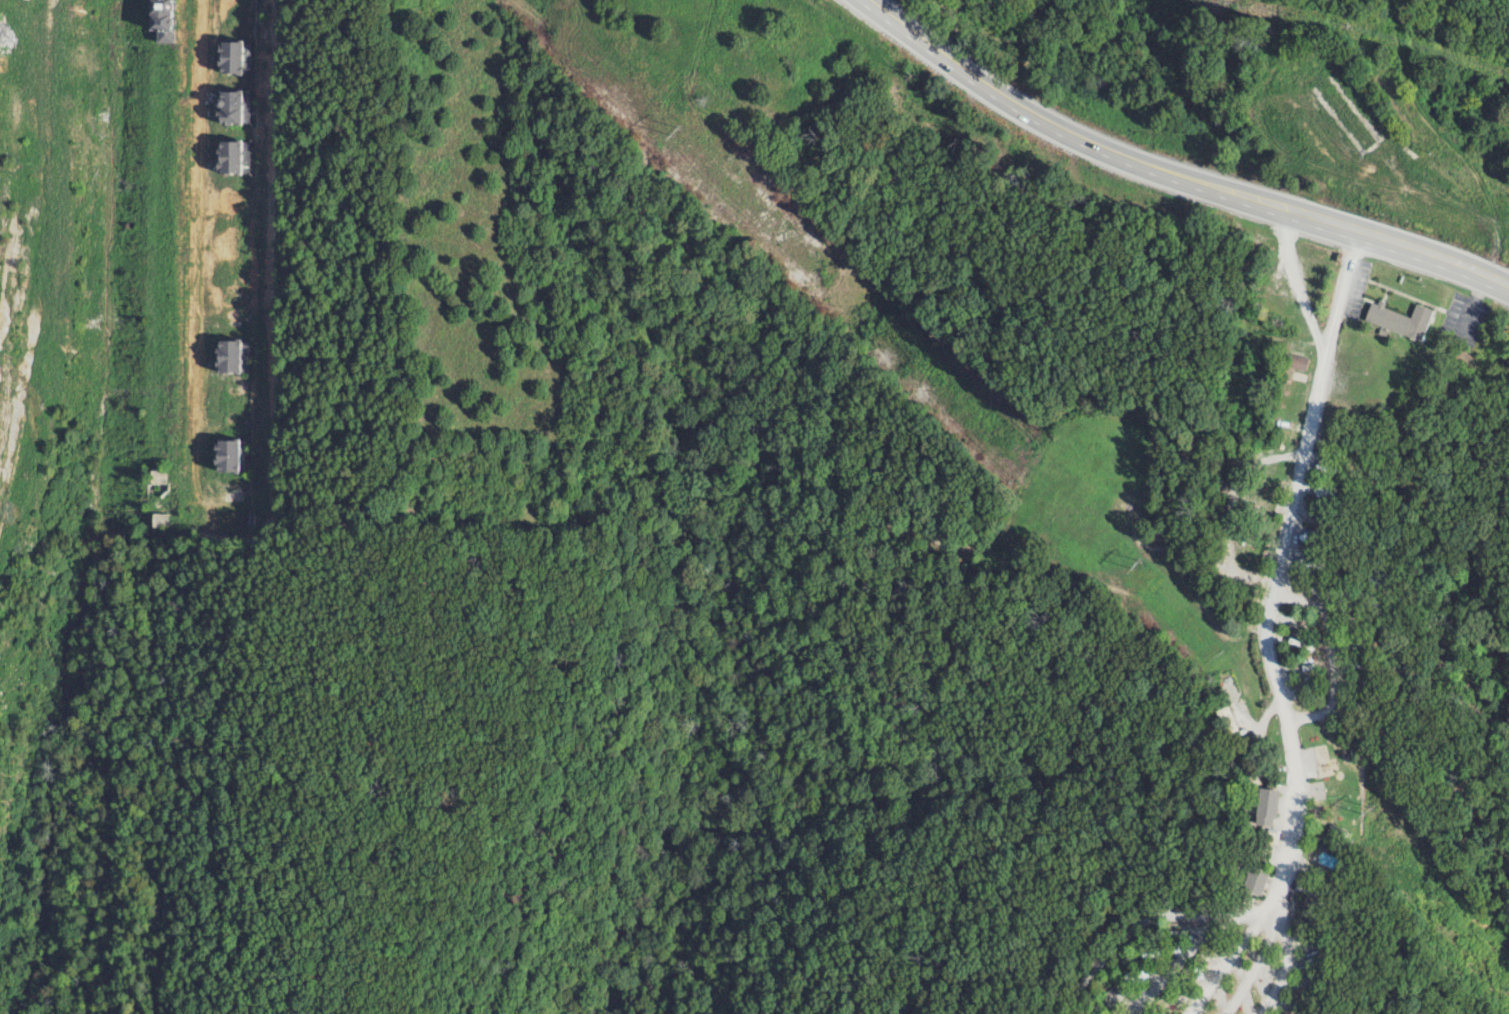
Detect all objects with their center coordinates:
building: (161, 18)
building: (226, 55)
building: (226, 106)
power tower: (681, 132)
road: (1099, 142)
building: (225, 155)
road: (1433, 256)
building: (1399, 319)
building: (221, 355)
building: (221, 454)
power tower: (1139, 565)
road: (1280, 579)
building: (1265, 807)
power tower: (1370, 810)
building: (1254, 881)
road: (1194, 950)
road: (1294, 966)
road: (1231, 967)
road: (1261, 972)
road: (1332, 975)

